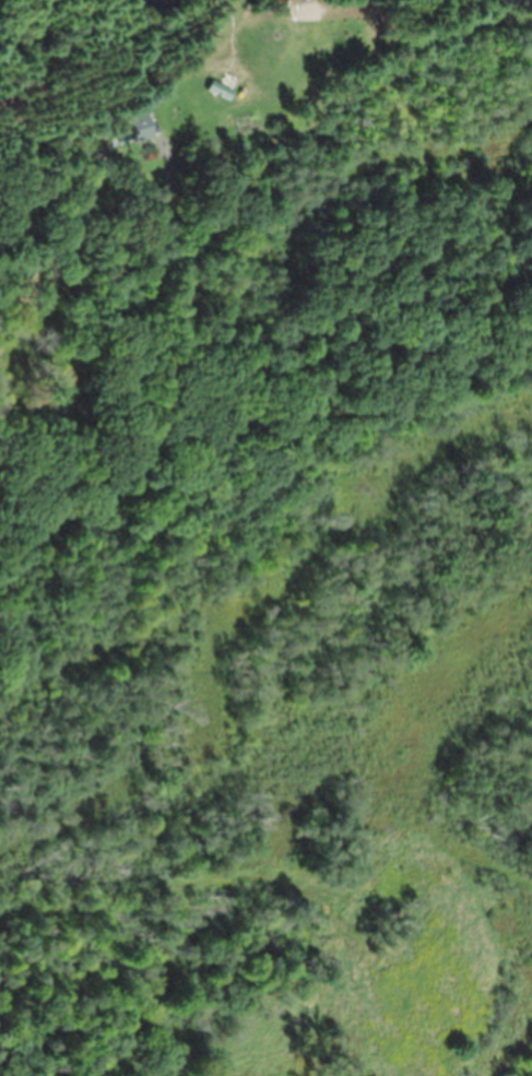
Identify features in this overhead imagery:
building: (217, 88)

